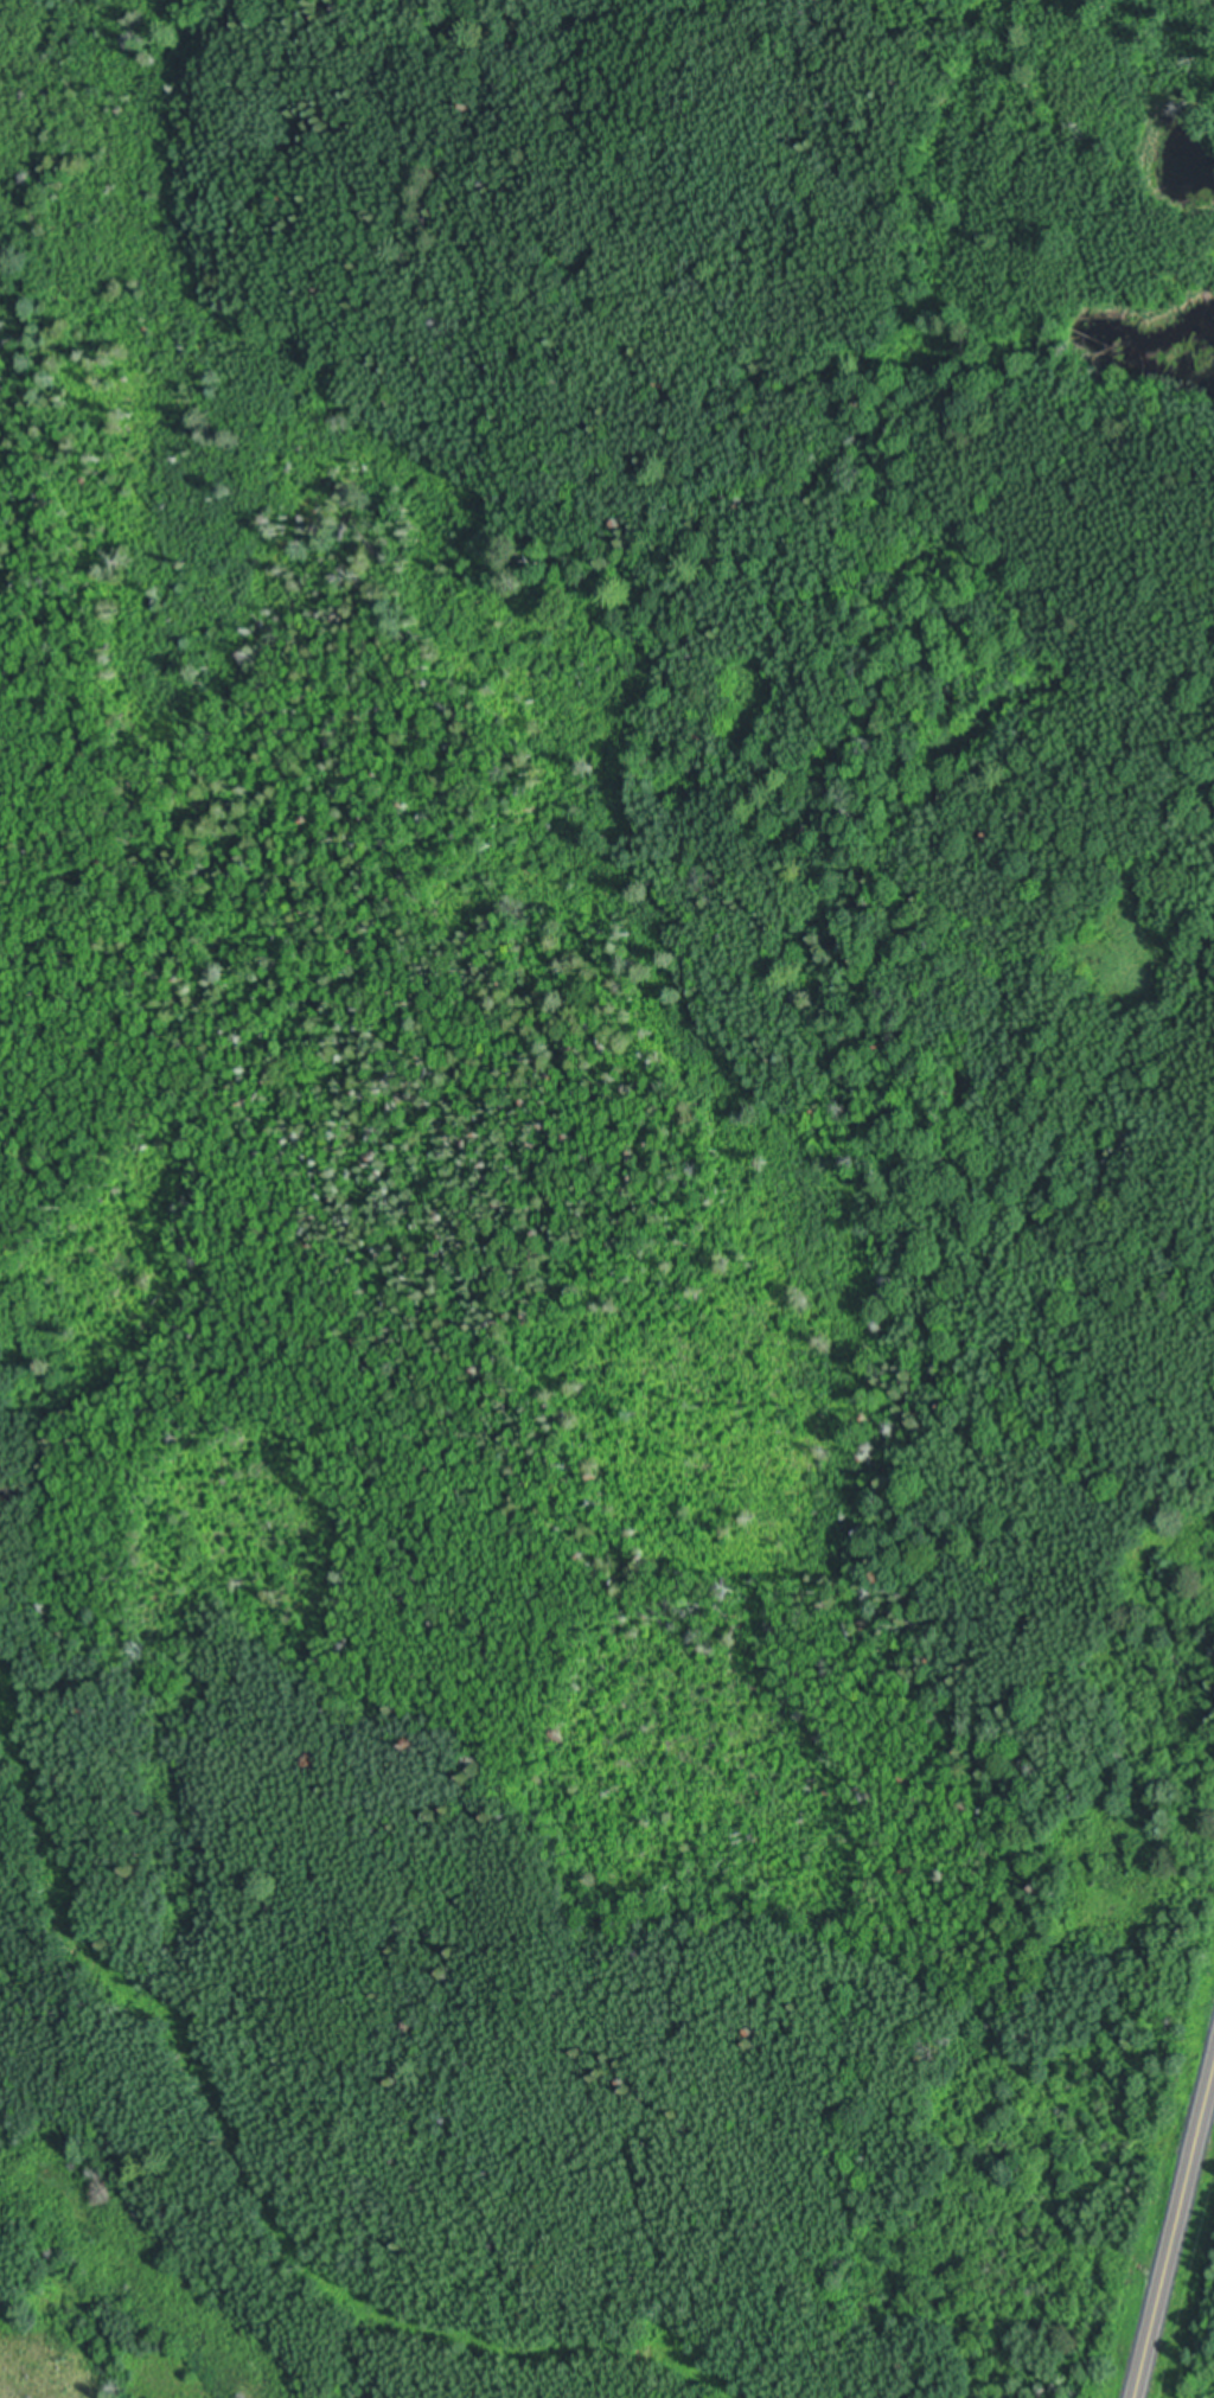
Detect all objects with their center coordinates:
road: (1173, 2225)

